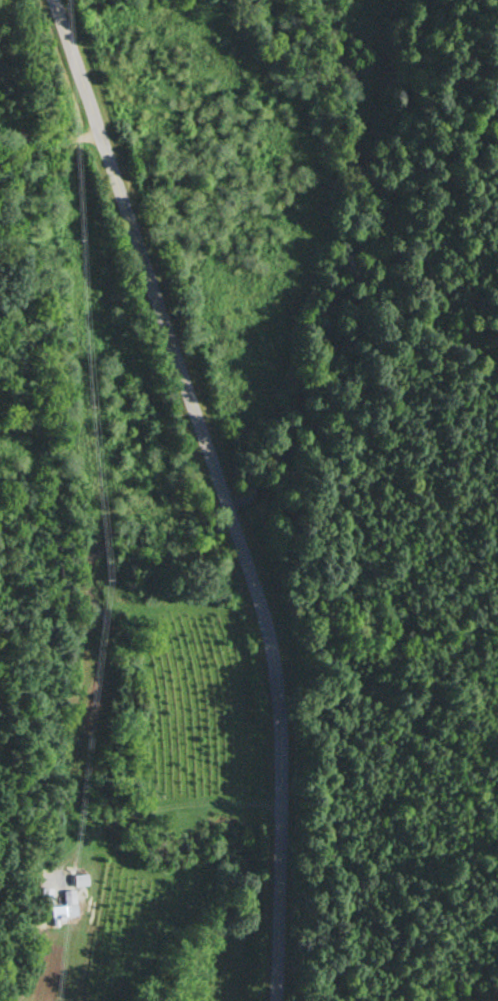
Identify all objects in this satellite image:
road: (45, 149)
road: (215, 491)

